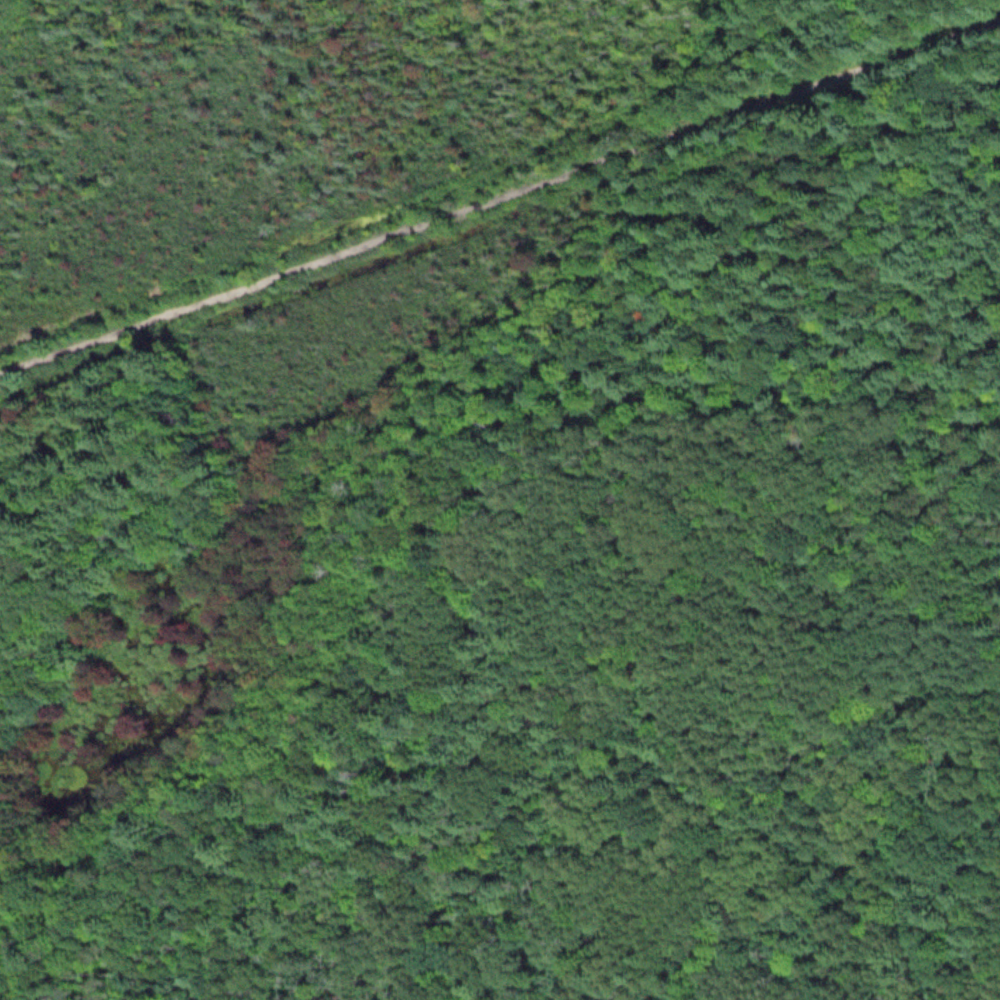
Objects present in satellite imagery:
road: (500, 193)

